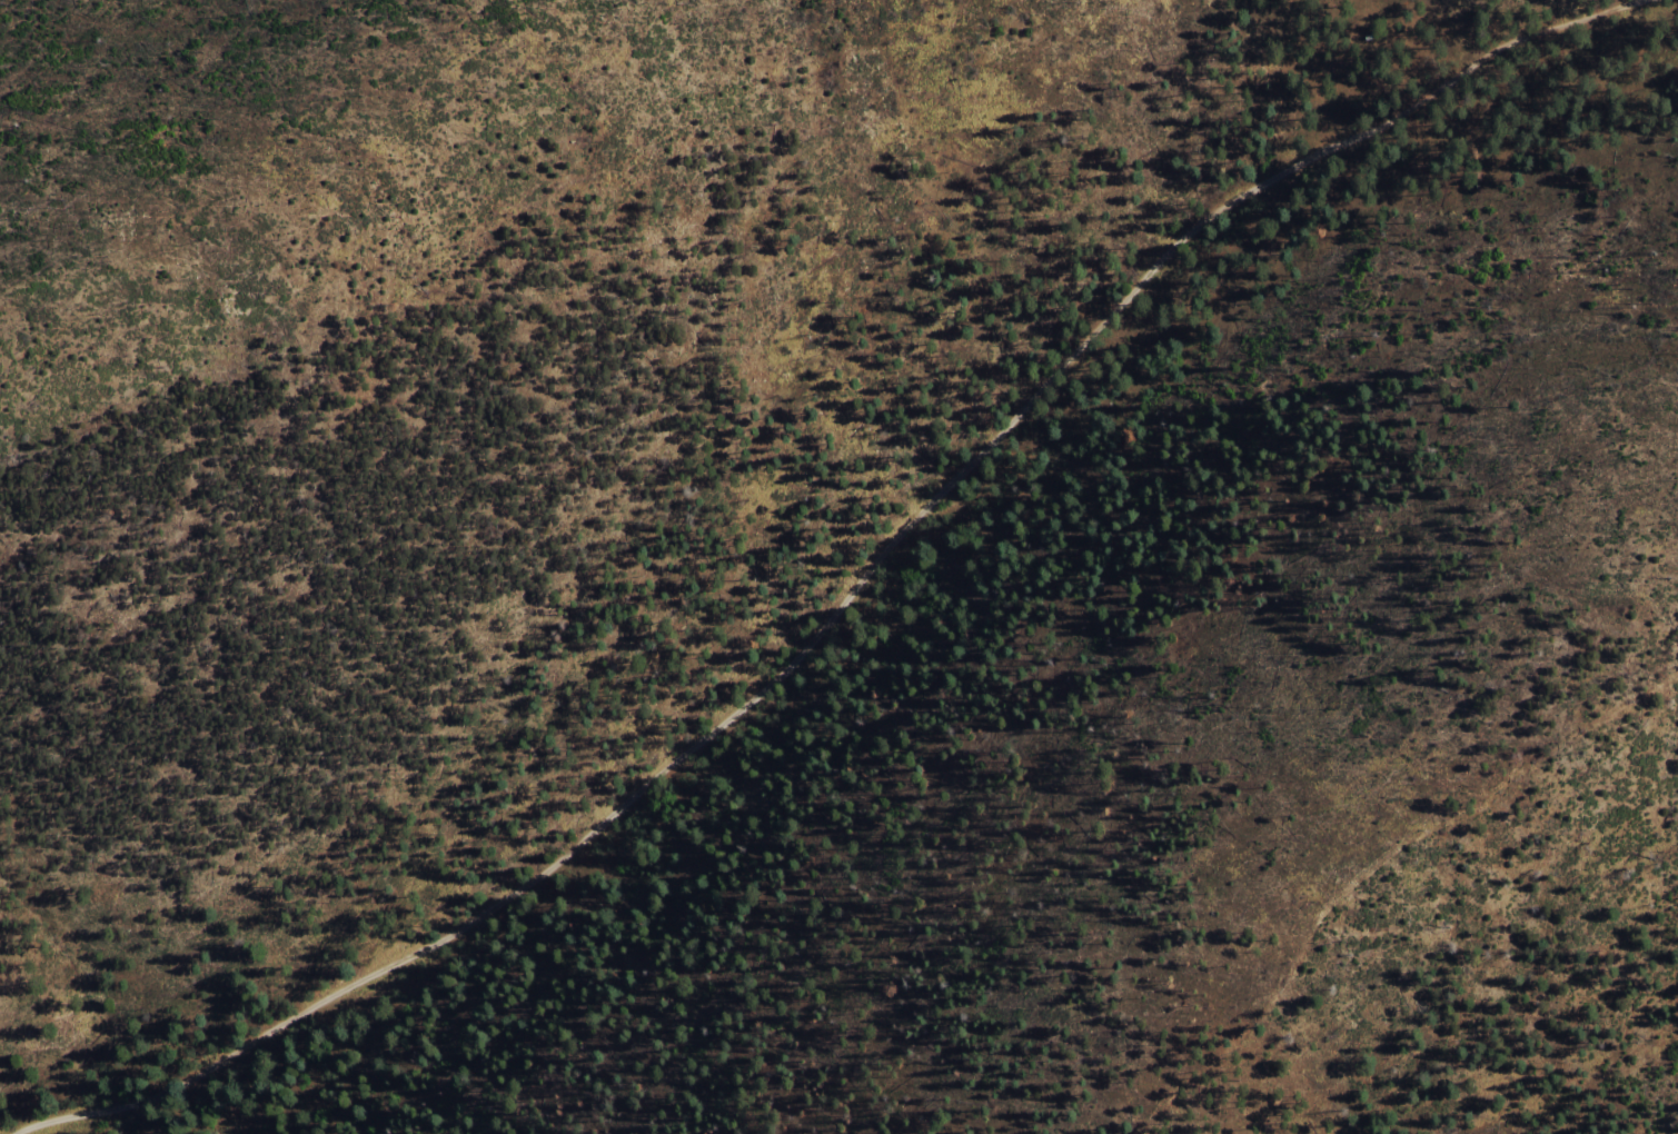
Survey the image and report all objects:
road: (816, 574)

